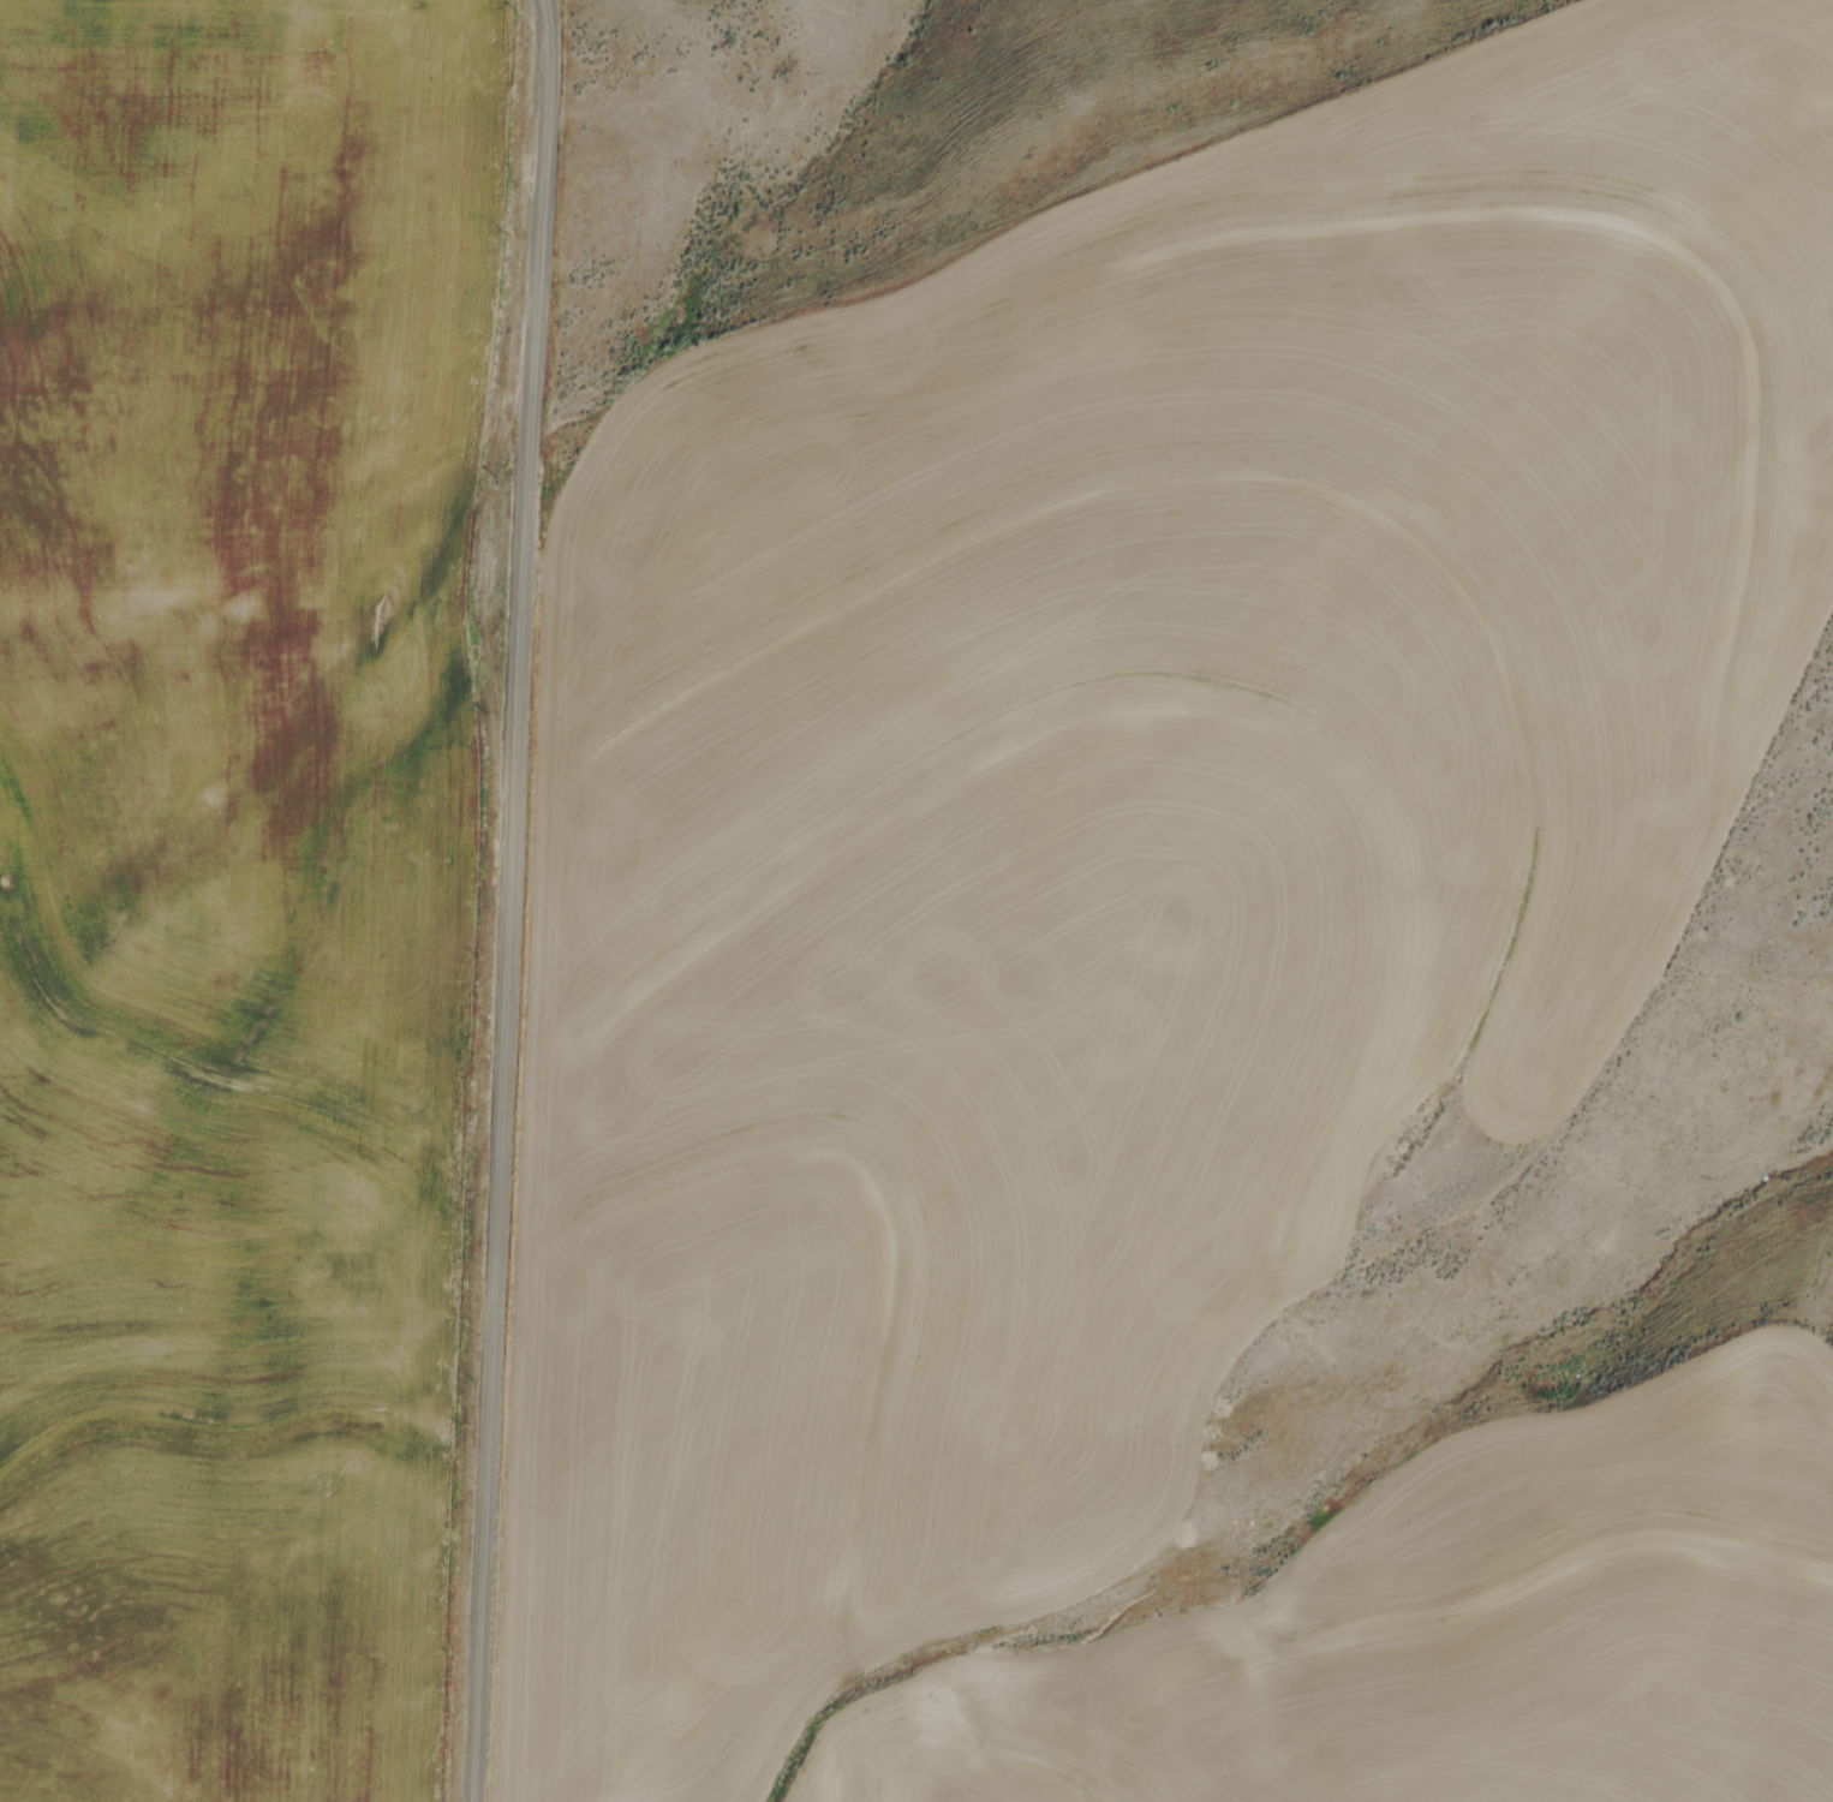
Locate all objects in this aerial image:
road: (513, 900)

